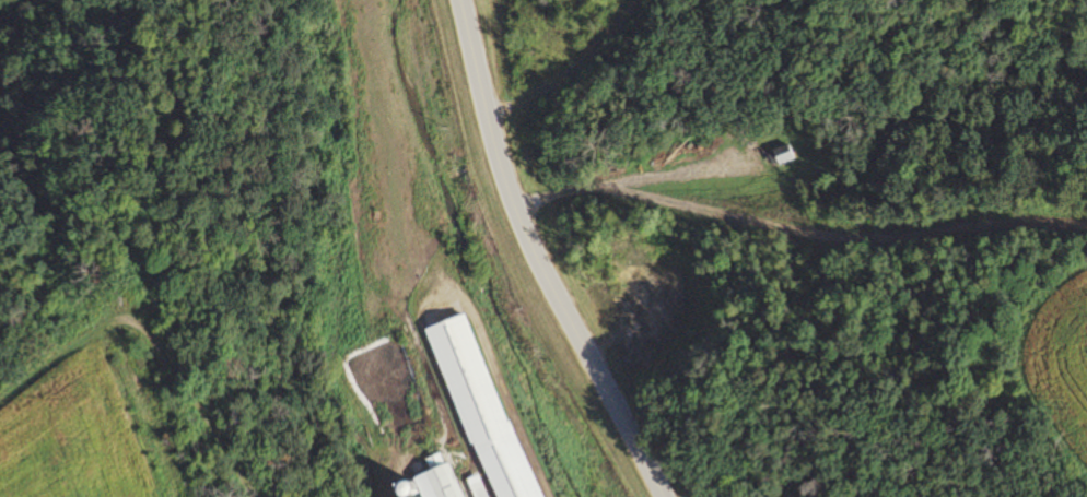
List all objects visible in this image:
building: (779, 156)
road: (536, 258)
road: (494, 372)
building: (480, 409)
road: (382, 483)
building: (434, 483)
building: (476, 487)

